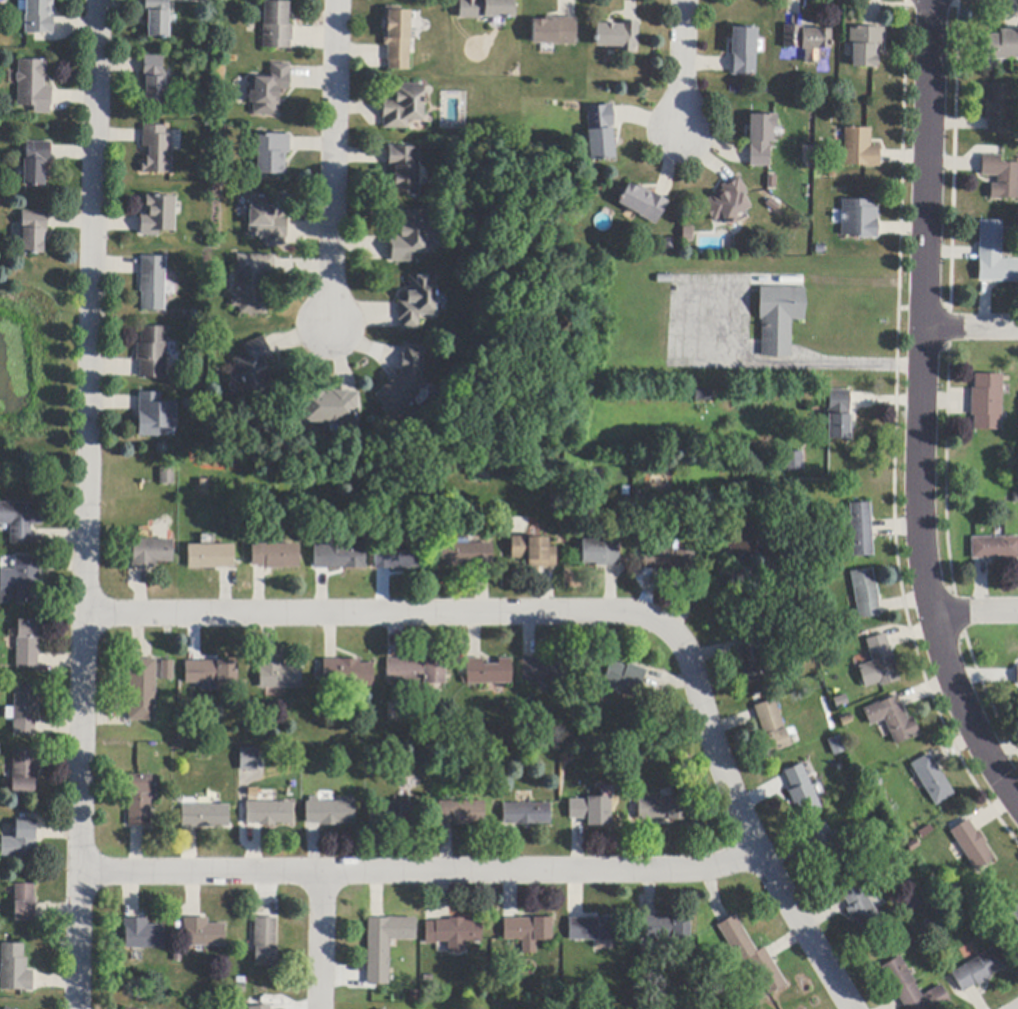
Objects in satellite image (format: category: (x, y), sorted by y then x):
building: (487, 9)
building: (38, 16)
building: (157, 18)
building: (277, 26)
building: (555, 31)
building: (618, 36)
building: (397, 37)
building: (807, 41)
building: (866, 46)
building: (1002, 46)
building: (744, 51)
road: (682, 62)
building: (154, 81)
building: (34, 86)
building: (269, 90)
building: (404, 106)
building: (997, 109)
building: (601, 133)
building: (762, 139)
building: (859, 149)
building: (157, 150)
building: (273, 153)
road: (334, 161)
building: (36, 163)
building: (404, 171)
building: (1000, 177)
building: (728, 202)
building: (644, 203)
building: (158, 216)
building: (859, 219)
building: (266, 222)
building: (34, 231)
building: (688, 234)
building: (409, 235)
building: (669, 244)
building: (994, 256)
building: (665, 279)
building: (152, 283)
building: (253, 283)
building: (418, 301)
road: (700, 316)
building: (779, 318)
road: (971, 326)
building: (152, 352)
park: (38, 358)
building: (253, 366)
building: (403, 384)
building: (704, 396)
building: (987, 402)
building: (330, 407)
road: (922, 412)
building: (154, 415)
building: (838, 415)
building: (793, 461)
building: (167, 477)
building: (202, 486)
road: (86, 504)
building: (555, 506)
building: (20, 520)
building: (861, 530)
building: (752, 544)
building: (994, 548)
building: (533, 552)
building: (600, 552)
building: (151, 553)
building: (466, 554)
building: (210, 556)
building: (276, 556)
building: (401, 556)
building: (339, 557)
building: (668, 559)
building: (21, 582)
road: (710, 582)
building: (865, 593)
road: (974, 611)
road: (591, 616)
building: (28, 644)
building: (750, 659)
building: (878, 664)
building: (167, 670)
building: (544, 670)
building: (416, 672)
building: (488, 672)
building: (211, 673)
building: (347, 674)
building: (279, 675)
building: (1017, 676)
building: (623, 678)
building: (142, 690)
building: (24, 710)
building: (892, 719)
building: (845, 720)
building: (771, 727)
building: (836, 746)
building: (247, 757)
building: (24, 774)
building: (932, 779)
building: (801, 791)
building: (140, 800)
building: (662, 809)
building: (592, 810)
building: (269, 813)
building: (330, 813)
building: (462, 813)
building: (395, 814)
building: (527, 814)
building: (206, 816)
building: (21, 841)
building: (972, 845)
building: (826, 849)
road: (419, 871)
building: (24, 903)
building: (861, 910)
building: (1015, 914)
building: (666, 928)
building: (592, 929)
building: (528, 932)
building: (204, 933)
building: (454, 933)
building: (143, 934)
building: (266, 941)
road: (322, 941)
building: (385, 945)
building: (649, 951)
building: (751, 955)
building: (15, 969)
building: (976, 971)
building: (912, 989)
building: (262, 1007)
building: (5, 1008)
building: (129, 1008)
building: (383, 1008)

